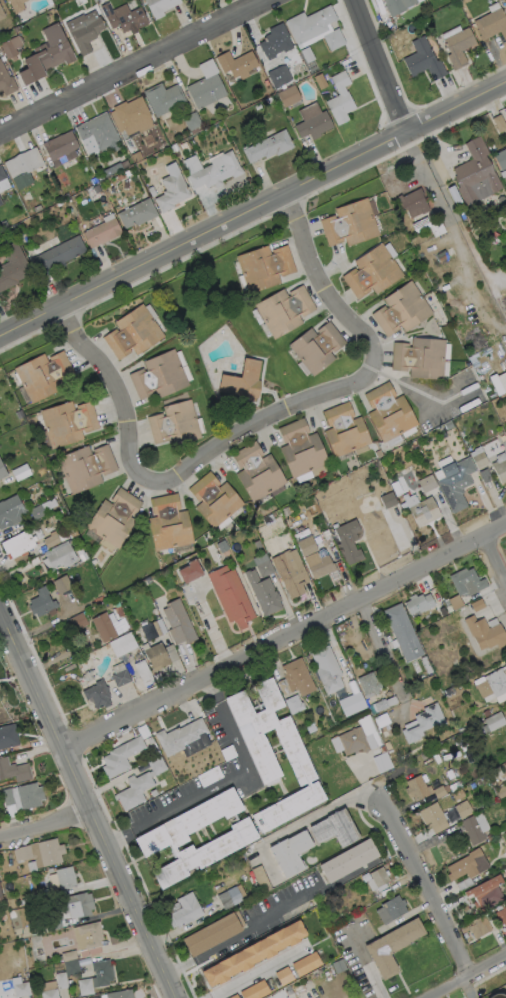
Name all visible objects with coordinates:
building: (188, 0)
building: (18, 5)
building: (373, 5)
building: (161, 6)
building: (398, 6)
building: (2, 14)
building: (125, 19)
building: (310, 25)
building: (492, 25)
building: (17, 29)
building: (87, 35)
building: (334, 40)
building: (276, 42)
building: (11, 47)
building: (459, 47)
building: (47, 55)
building: (308, 55)
building: (423, 61)
building: (236, 65)
road: (384, 65)
road: (136, 67)
building: (277, 77)
building: (6, 82)
building: (206, 91)
building: (289, 96)
building: (164, 99)
building: (341, 99)
building: (269, 101)
building: (258, 107)
building: (131, 113)
building: (192, 121)
building: (497, 123)
building: (314, 126)
building: (505, 130)
building: (99, 131)
building: (60, 146)
building: (184, 146)
building: (269, 147)
building: (174, 148)
building: (492, 148)
building: (501, 159)
building: (24, 164)
building: (112, 170)
building: (130, 172)
building: (217, 172)
building: (2, 174)
building: (503, 174)
building: (476, 175)
building: (100, 178)
building: (3, 184)
building: (172, 189)
building: (152, 192)
building: (113, 193)
building: (455, 195)
building: (1, 202)
building: (414, 203)
building: (37, 209)
road: (252, 211)
building: (137, 214)
building: (351, 224)
building: (421, 226)
road: (449, 227)
building: (438, 229)
building: (102, 234)
building: (59, 255)
building: (13, 267)
building: (265, 267)
building: (373, 273)
road: (327, 285)
building: (402, 310)
building: (285, 311)
building: (133, 333)
building: (317, 347)
building: (420, 358)
building: (44, 376)
building: (159, 376)
building: (244, 382)
building: (498, 383)
road: (121, 390)
building: (389, 413)
road: (262, 422)
building: (68, 423)
building: (175, 424)
building: (449, 425)
building: (344, 430)
building: (414, 445)
building: (301, 449)
building: (378, 454)
building: (480, 460)
building: (86, 468)
building: (501, 471)
building: (2, 472)
building: (257, 472)
building: (21, 473)
building: (310, 473)
building: (485, 476)
building: (456, 483)
building: (427, 484)
building: (215, 500)
building: (388, 501)
building: (424, 512)
building: (11, 513)
building: (37, 513)
building: (445, 513)
building: (115, 518)
building: (269, 521)
building: (169, 524)
building: (73, 534)
building: (54, 539)
building: (348, 541)
building: (19, 544)
building: (258, 544)
building: (307, 546)
building: (222, 547)
road: (500, 547)
building: (83, 556)
building: (61, 557)
building: (30, 563)
building: (321, 567)
building: (265, 569)
building: (190, 572)
building: (291, 572)
building: (62, 585)
building: (460, 589)
building: (263, 593)
building: (231, 596)
building: (43, 603)
building: (447, 603)
building: (420, 604)
building: (477, 605)
building: (449, 609)
building: (155, 612)
building: (443, 613)
road: (1, 619)
building: (78, 622)
building: (178, 623)
building: (110, 625)
building: (158, 628)
building: (403, 633)
building: (486, 633)
building: (388, 638)
road: (285, 639)
building: (342, 641)
building: (123, 645)
road: (382, 651)
building: (157, 656)
building: (60, 664)
building: (426, 666)
building: (327, 670)
building: (347, 673)
building: (145, 676)
building: (298, 677)
building: (121, 678)
building: (491, 683)
building: (369, 684)
road: (211, 690)
building: (98, 695)
building: (352, 704)
building: (294, 705)
building: (380, 706)
building: (486, 713)
building: (382, 721)
building: (493, 722)
building: (425, 724)
building: (310, 729)
building: (253, 730)
building: (144, 732)
building: (8, 737)
building: (181, 737)
building: (150, 741)
building: (350, 742)
building: (461, 742)
building: (229, 753)
building: (121, 757)
building: (436, 757)
building: (382, 761)
building: (156, 765)
building: (14, 771)
building: (493, 774)
building: (210, 777)
road: (222, 782)
building: (423, 789)
building: (134, 791)
building: (502, 791)
building: (153, 793)
building: (30, 796)
building: (9, 797)
road: (88, 804)
building: (289, 807)
building: (463, 810)
building: (431, 816)
road: (45, 822)
road: (300, 824)
building: (335, 829)
building: (473, 830)
road: (117, 836)
building: (489, 837)
building: (161, 838)
building: (498, 840)
building: (291, 853)
building: (42, 854)
building: (12, 859)
building: (348, 861)
building: (464, 866)
building: (50, 870)
building: (1, 871)
building: (379, 877)
building: (63, 879)
building: (253, 879)
building: (261, 879)
building: (362, 883)
road: (425, 889)
building: (486, 894)
building: (43, 895)
building: (1, 898)
building: (32, 899)
building: (230, 899)
building: (24, 902)
building: (78, 905)
building: (391, 909)
building: (185, 911)
road: (278, 915)
building: (500, 915)
building: (53, 924)
building: (479, 927)
building: (213, 934)
building: (88, 936)
building: (392, 947)
building: (40, 951)
building: (254, 954)
building: (307, 965)
building: (339, 966)
road: (178, 968)
building: (68, 969)
road: (256, 971)
building: (103, 973)
road: (465, 976)
building: (284, 977)
building: (47, 985)
building: (86, 987)
building: (21, 990)
building: (256, 991)
building: (289, 992)
building: (50, 994)
building: (120, 994)
building: (500, 995)
building: (235, 996)
road: (208, 997)

